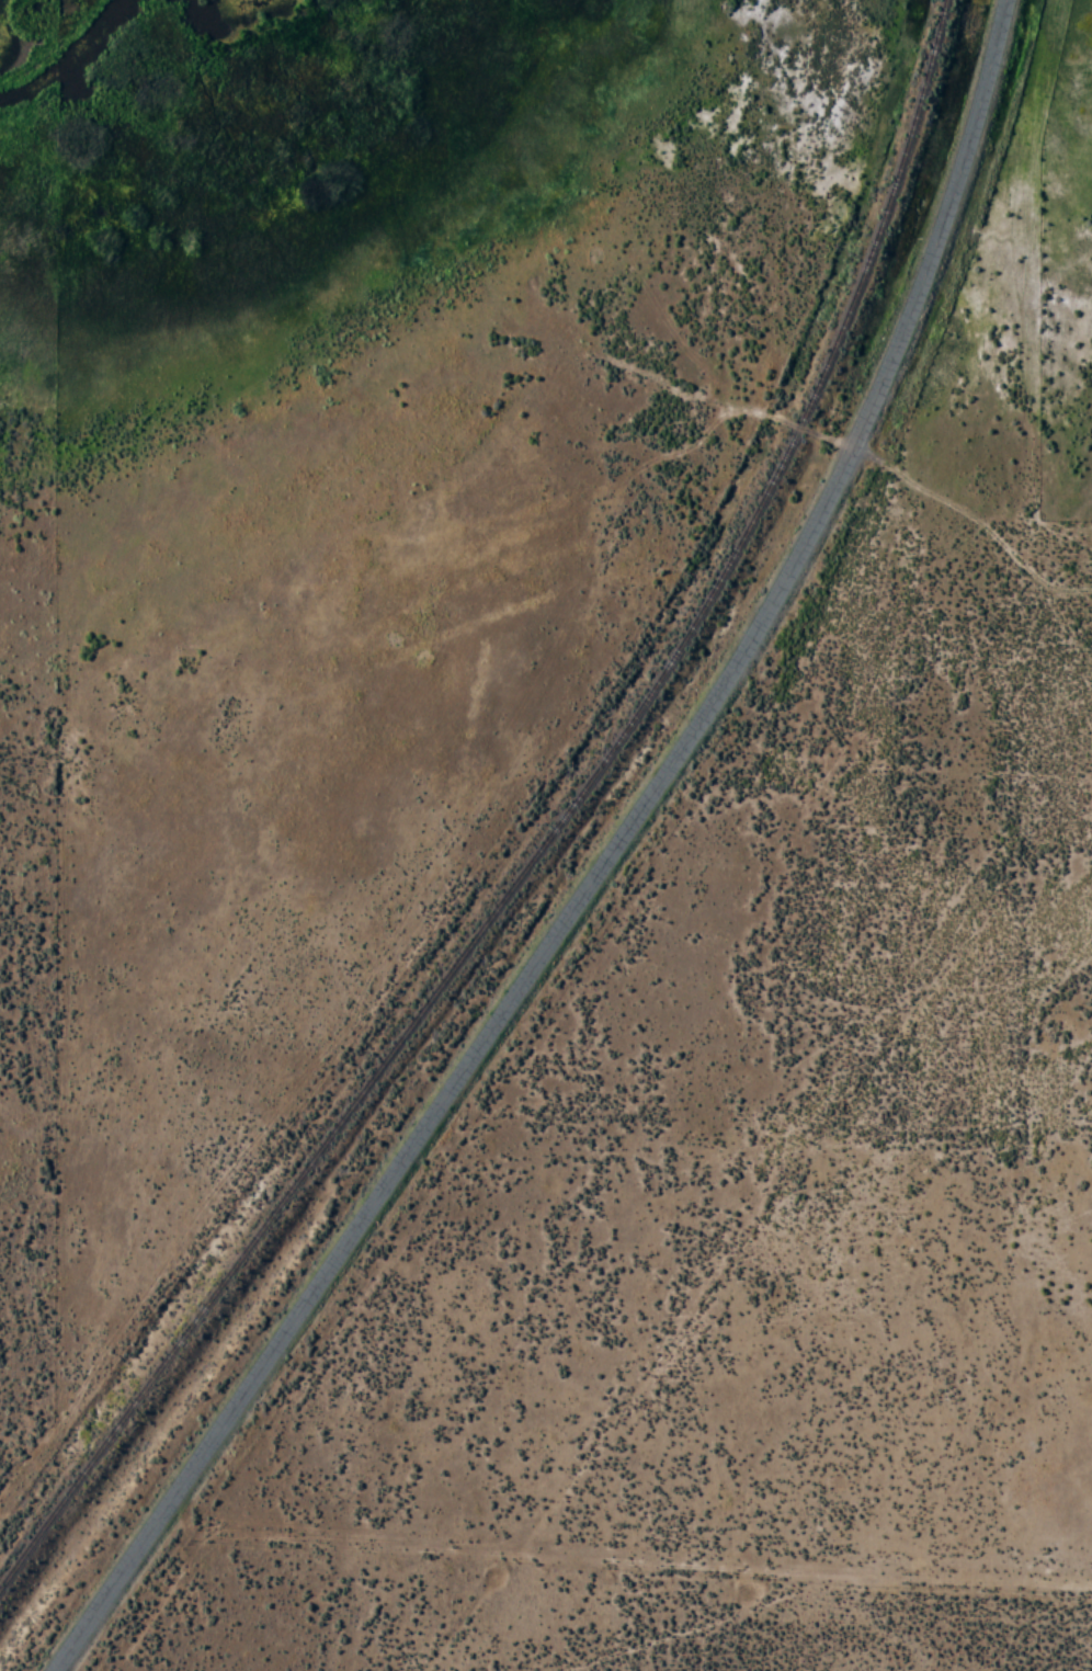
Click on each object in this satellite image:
road: (821, 436)
railway: (548, 834)
road: (600, 869)

